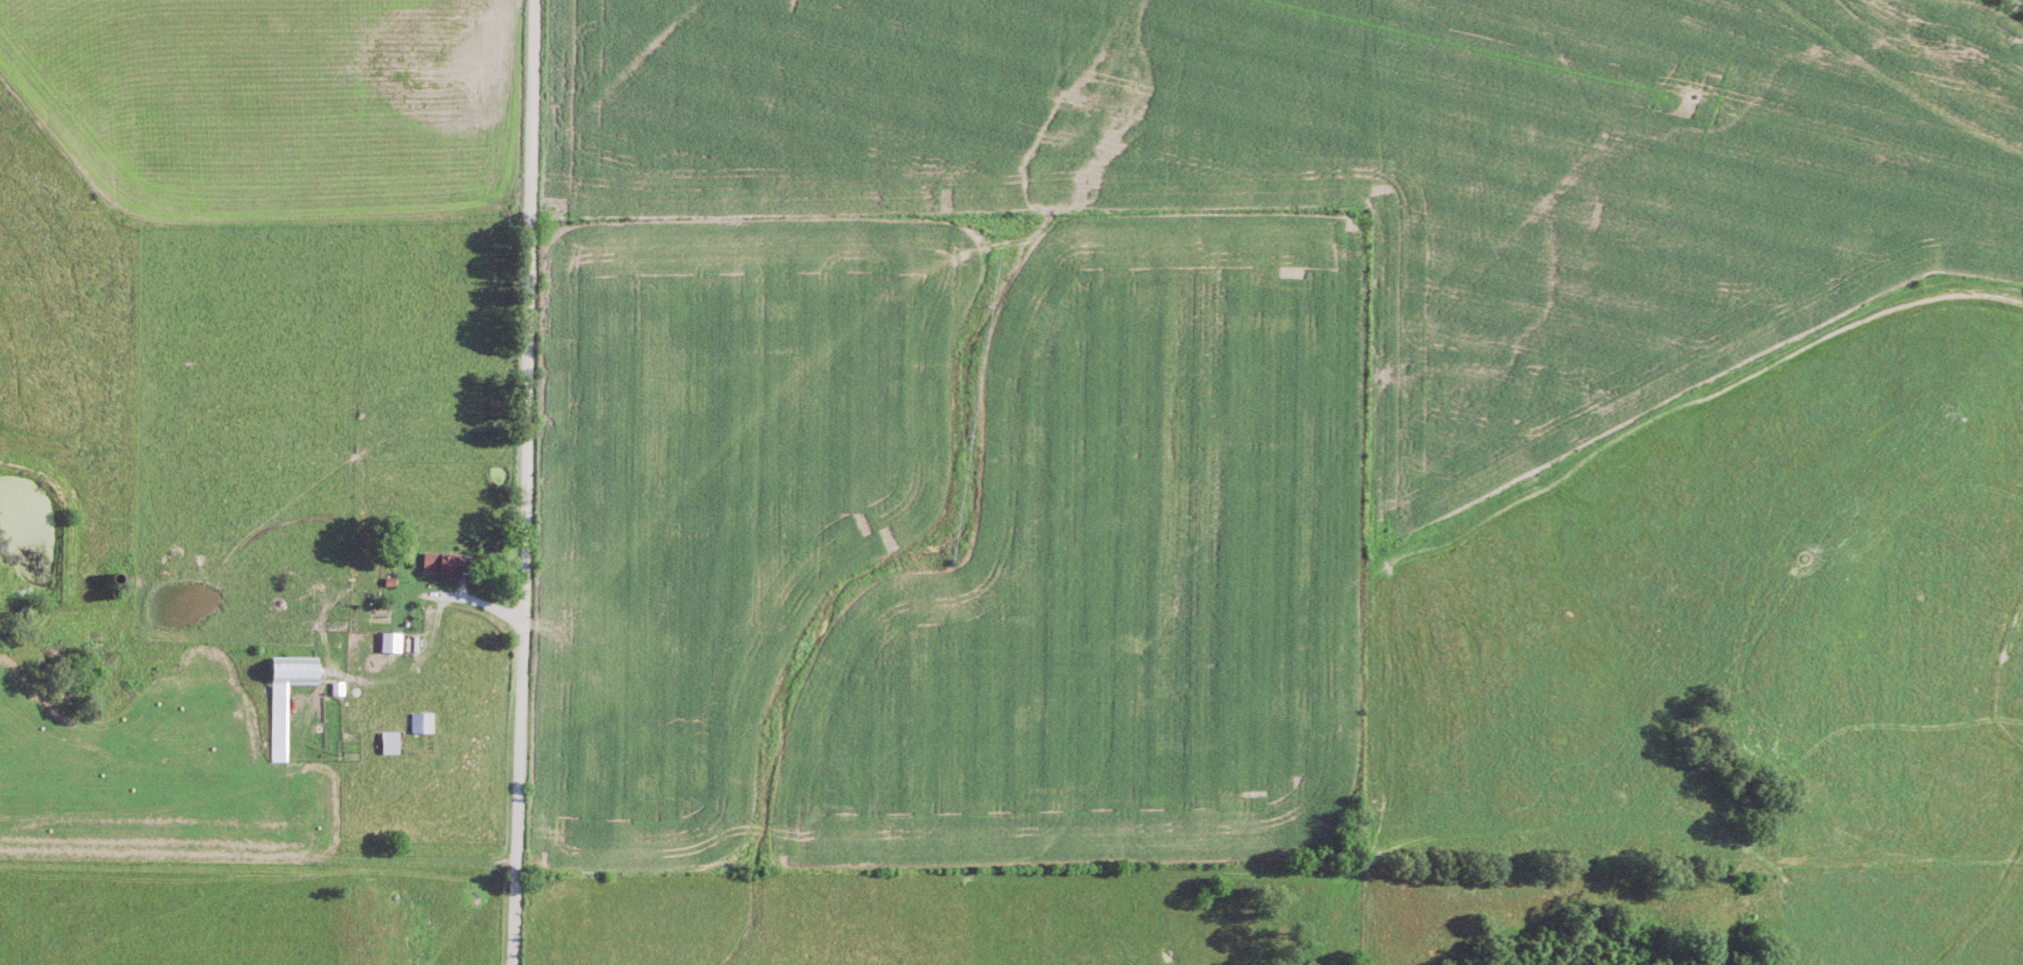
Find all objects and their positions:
road: (526, 482)
building: (444, 568)
building: (391, 646)
building: (278, 727)
building: (390, 747)

